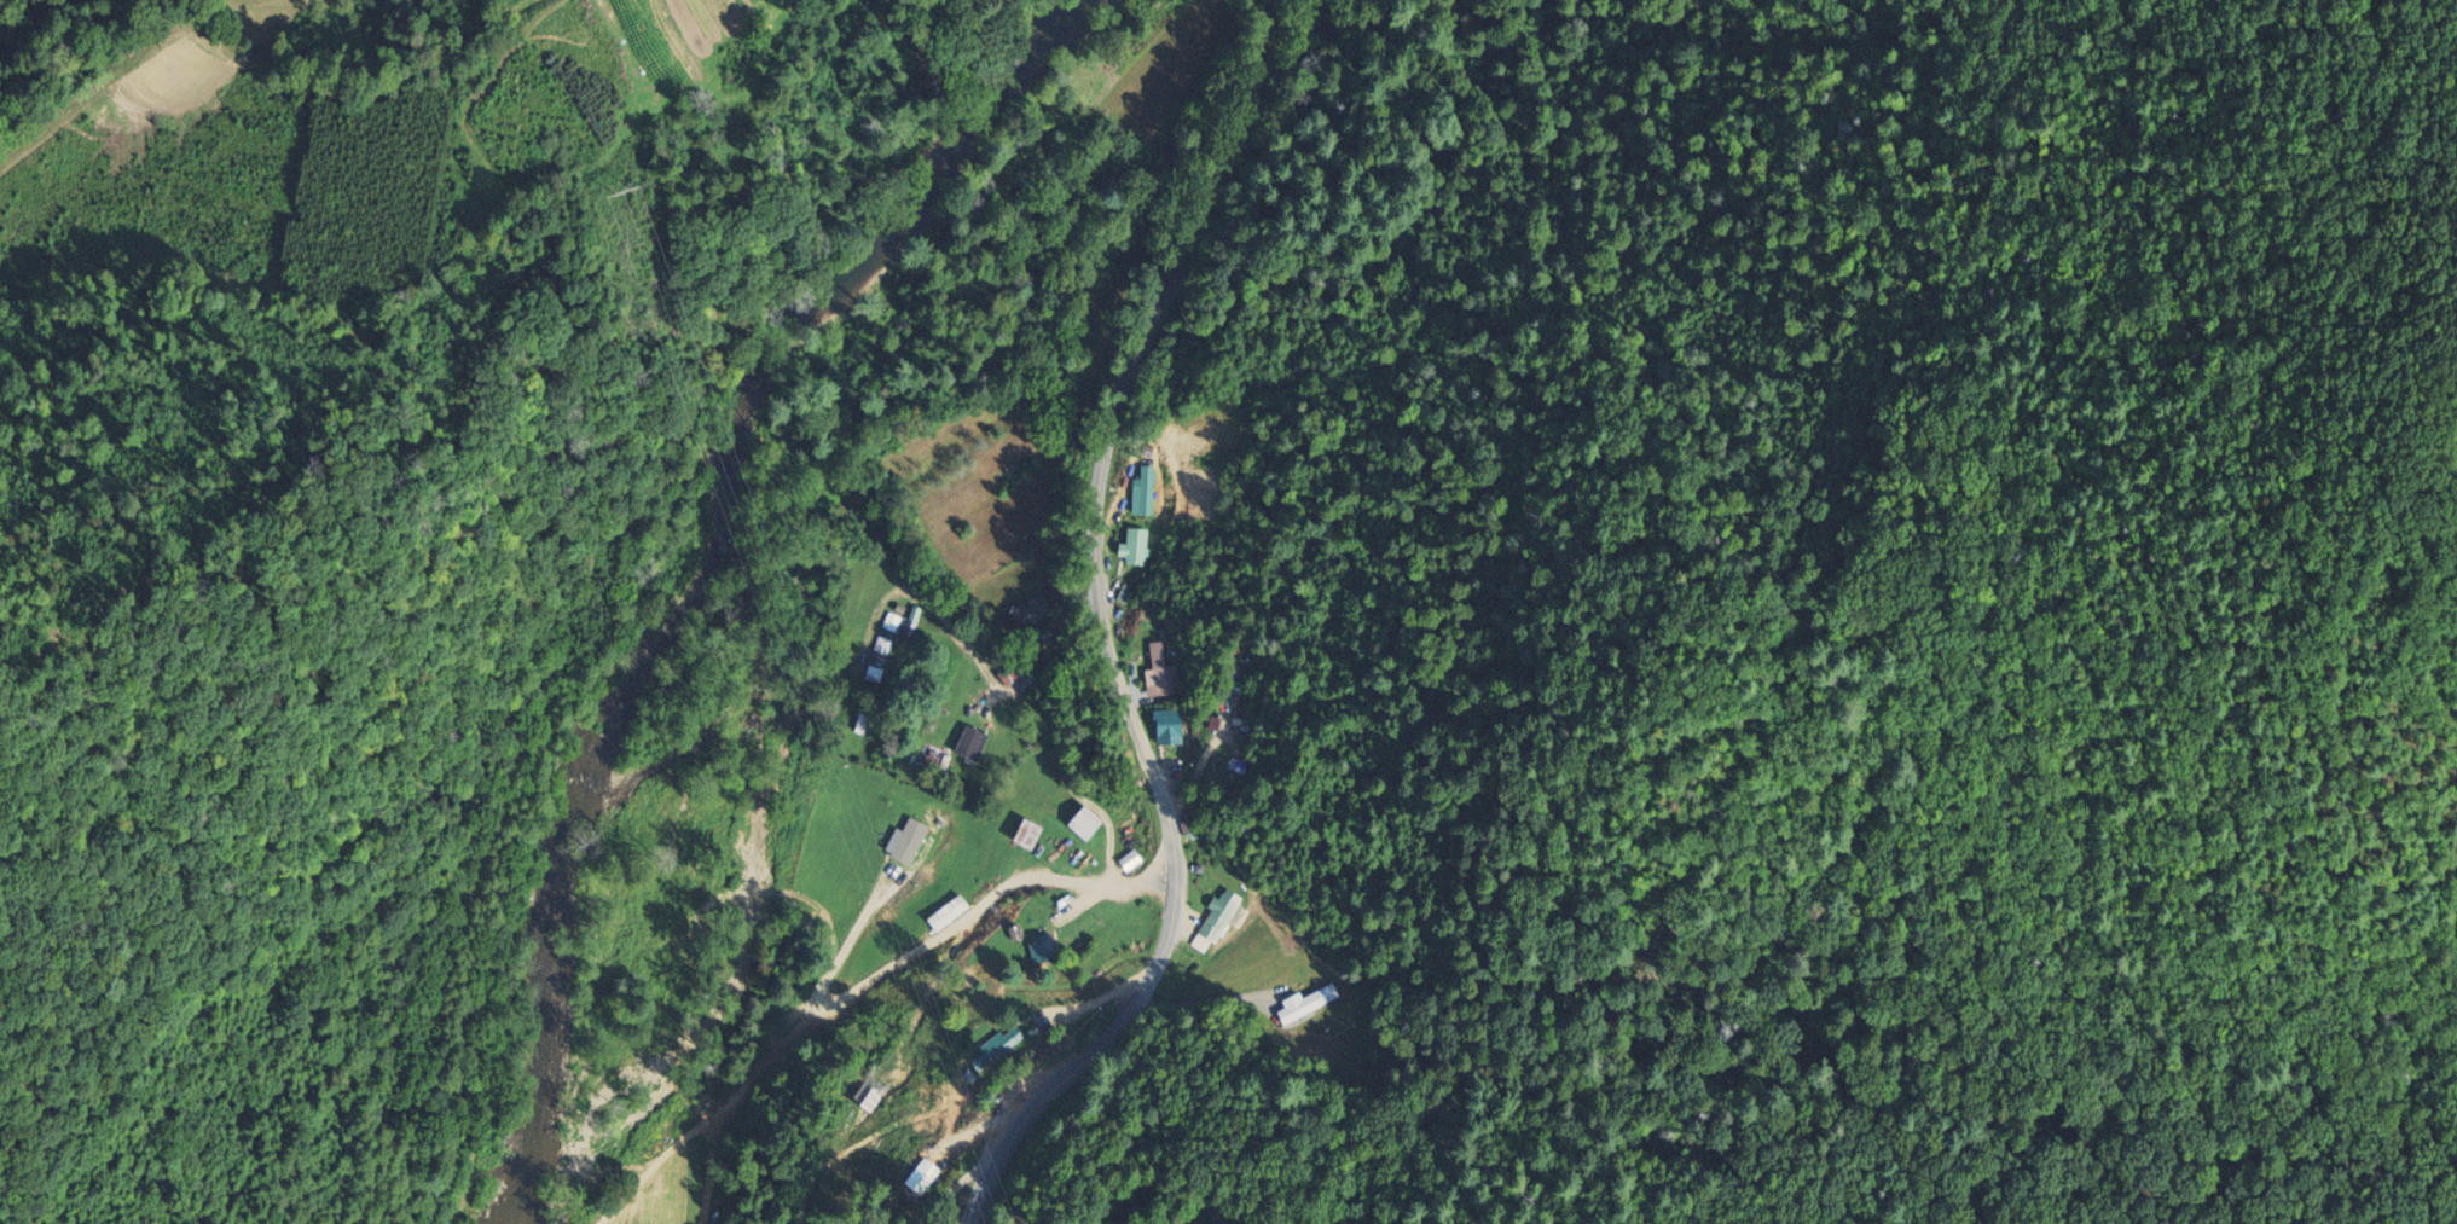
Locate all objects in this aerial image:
power tower: (622, 193)
building: (1149, 491)
building: (1137, 549)
river: (720, 569)
building: (1032, 613)
road: (1096, 631)
building: (1164, 673)
building: (1015, 678)
building: (1174, 727)
building: (972, 744)
building: (1091, 824)
building: (1032, 835)
building: (949, 915)
building: (1224, 917)
building: (1044, 950)

